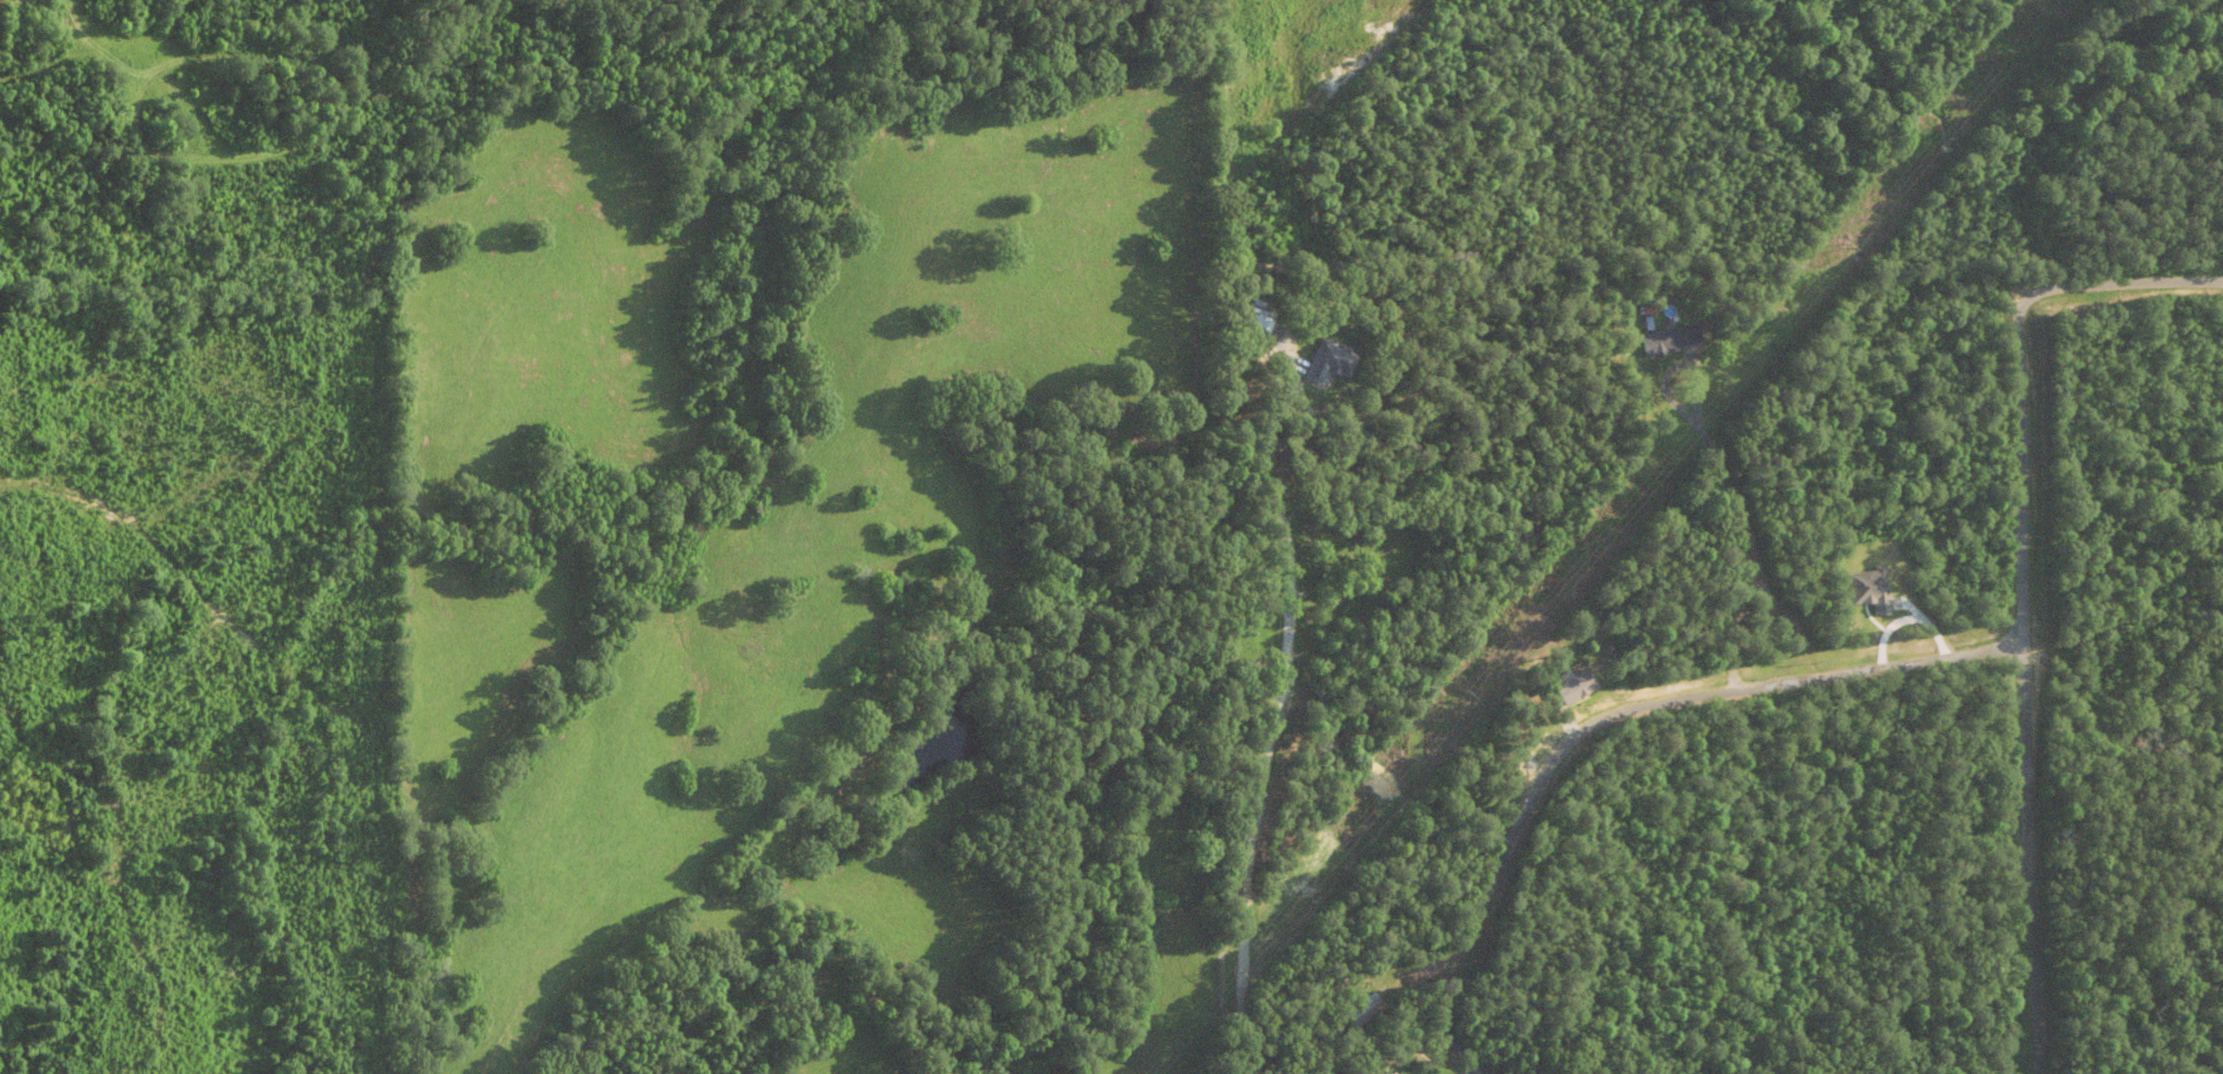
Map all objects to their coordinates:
building: (1261, 319)
building: (1671, 341)
building: (1332, 362)
road: (1753, 552)
road: (2025, 584)
building: (1578, 689)
road: (1655, 706)
road: (1242, 911)
building: (1363, 1013)

